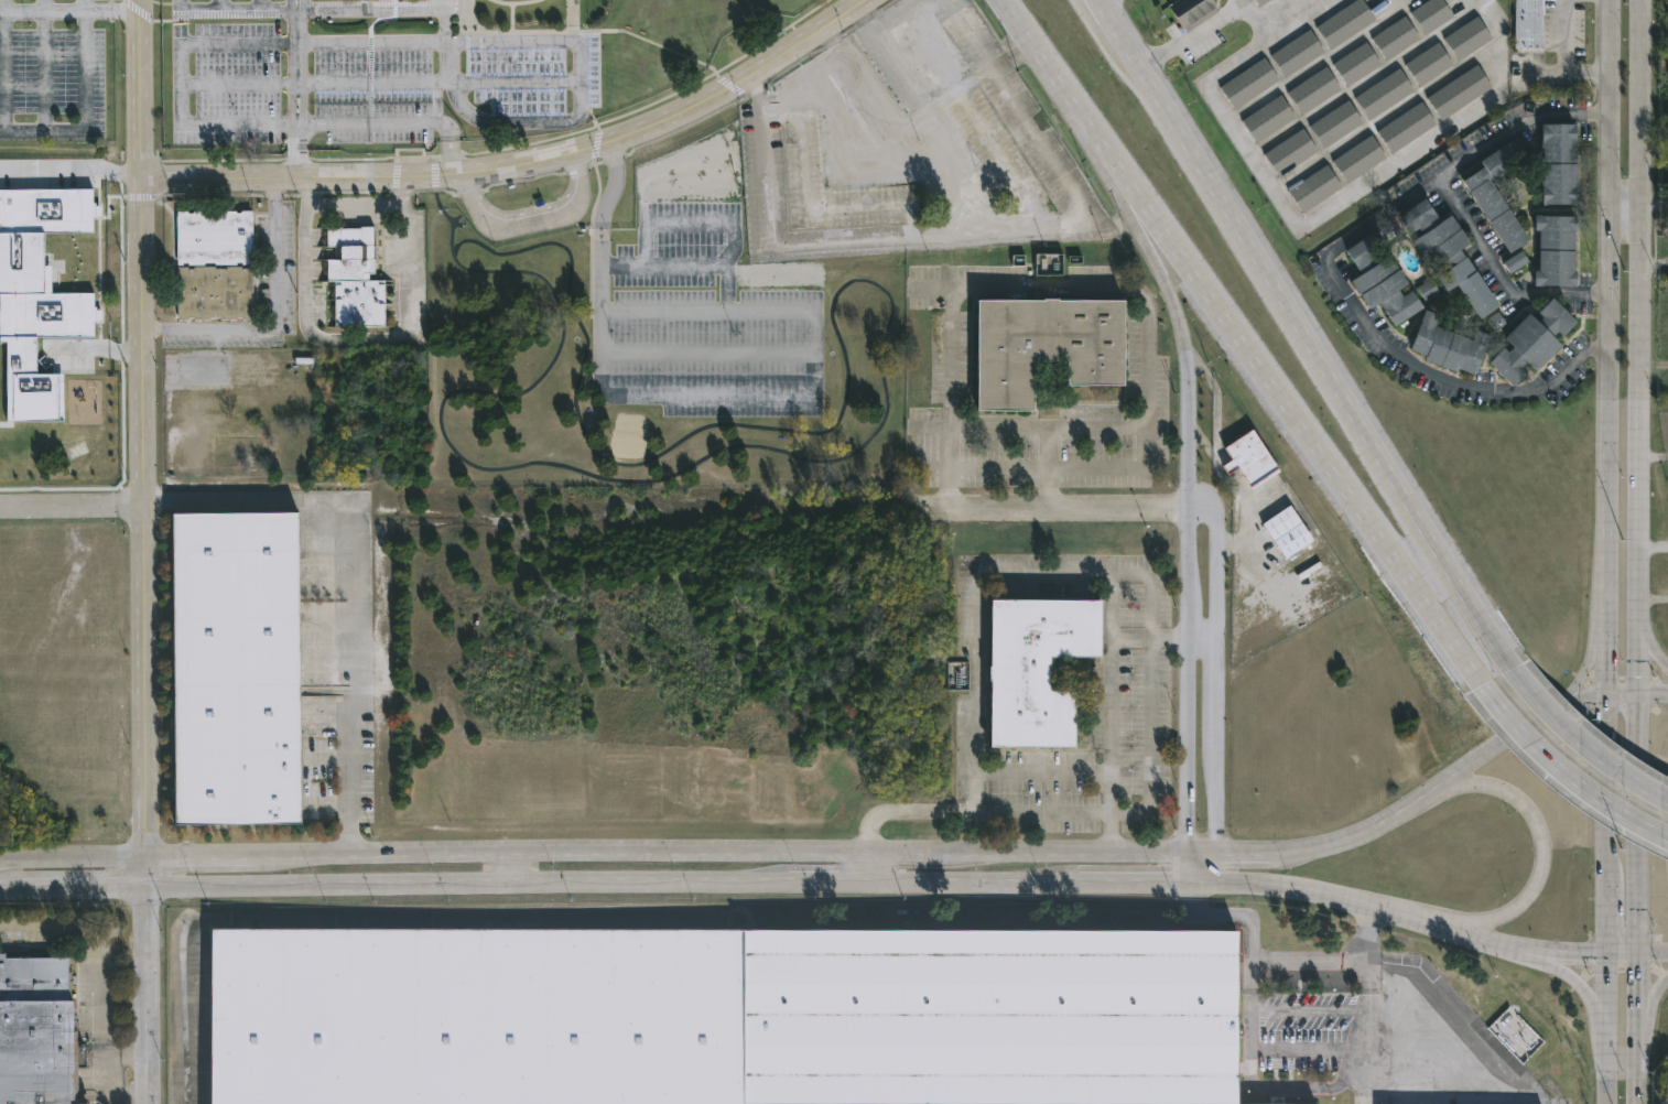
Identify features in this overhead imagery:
building: (375, 0)
road: (1101, 1)
road: (1244, 1)
building: (1260, 2)
road: (87, 4)
road: (219, 6)
road: (260, 6)
road: (113, 9)
road: (43, 10)
road: (232, 11)
building: (1192, 11)
building: (1431, 13)
road: (906, 18)
building: (1345, 22)
building: (1529, 23)
road: (1191, 35)
building: (1395, 37)
building: (1467, 37)
building: (1297, 52)
road: (577, 61)
building: (1356, 63)
building: (1428, 63)
road: (4, 64)
road: (45, 64)
road: (741, 79)
building: (1248, 83)
road: (184, 84)
road: (240, 84)
road: (140, 89)
road: (296, 89)
building: (1314, 90)
building: (1459, 91)
building: (1384, 94)
road: (928, 109)
road: (878, 111)
road: (88, 113)
building: (1268, 118)
road: (502, 120)
road: (394, 122)
road: (981, 122)
building: (1335, 123)
building: (1406, 126)
road: (848, 143)
road: (593, 145)
road: (1043, 149)
building: (1291, 151)
building: (1360, 158)
building: (1559, 164)
road: (71, 169)
road: (1202, 169)
road: (965, 172)
road: (1126, 174)
road: (359, 176)
building: (1313, 187)
building: (1497, 193)
road: (358, 207)
road: (810, 207)
building: (48, 209)
road: (1623, 216)
road: (1318, 218)
road: (531, 220)
road: (691, 223)
road: (865, 247)
building: (1556, 251)
building: (1450, 258)
building: (1515, 261)
road: (686, 263)
building: (1048, 263)
building: (213, 264)
road: (1328, 270)
road: (1501, 274)
building: (353, 277)
building: (1382, 280)
road: (1103, 289)
building: (1428, 291)
road: (1638, 314)
road: (278, 321)
road: (362, 336)
building: (1532, 340)
road: (142, 342)
road: (1605, 344)
building: (1043, 346)
building: (1448, 346)
road: (727, 350)
building: (21, 357)
road: (686, 393)
road: (1047, 427)
building: (1245, 454)
road: (1653, 459)
road: (997, 462)
road: (72, 507)
road: (1051, 508)
road: (1416, 511)
road: (1371, 527)
road: (1184, 531)
building: (1287, 532)
road: (354, 575)
road: (1054, 575)
road: (1200, 640)
road: (1650, 651)
road: (1590, 658)
road: (1636, 659)
building: (1035, 664)
building: (235, 669)
building: (958, 674)
road: (1217, 684)
road: (1149, 689)
traffic signals: (1603, 689)
road: (1635, 689)
traffic signals: (1637, 690)
road: (145, 696)
road: (1109, 715)
road: (975, 747)
road: (1590, 750)
road: (1572, 783)
road: (1419, 802)
road: (977, 814)
road: (1605, 820)
road: (1638, 821)
road: (1545, 848)
road: (607, 851)
traffic signals: (148, 861)
road: (512, 870)
road: (1137, 883)
road: (973, 886)
traffic signals: (148, 888)
road: (467, 888)
road: (826, 888)
road: (85, 889)
road: (11, 890)
road: (1402, 911)
road: (1241, 914)
road: (1366, 946)
traffic signals: (1609, 952)
road: (1637, 952)
traffic signals: (1640, 953)
road: (1307, 961)
road: (148, 995)
road: (1592, 1008)
road: (1639, 1010)
building: (717, 1015)
road: (1650, 1025)
road: (1606, 1027)
road: (97, 1030)
building: (35, 1031)
road: (1364, 1032)
road: (1638, 1086)
road: (1261, 1087)
road: (113, 1094)

